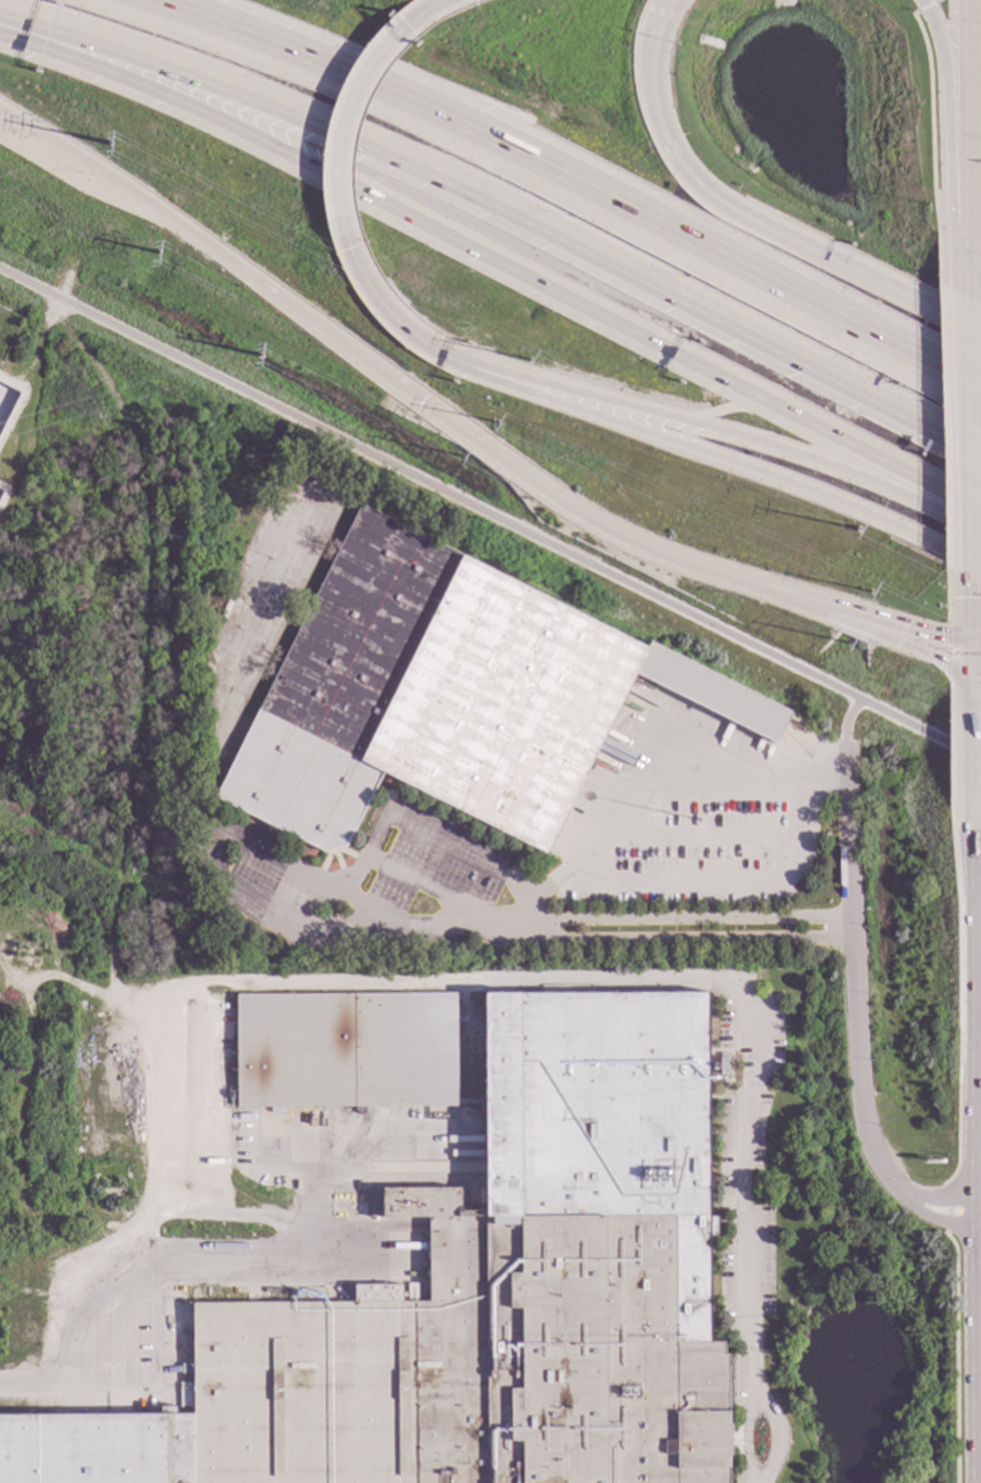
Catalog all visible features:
road: (936, 1)
road: (962, 2)
road: (926, 7)
road: (663, 11)
road: (930, 15)
road: (415, 16)
road: (950, 20)
road: (343, 122)
road: (963, 123)
road: (947, 138)
road: (930, 143)
power tower: (108, 144)
road: (571, 181)
road: (141, 204)
road: (502, 214)
road: (753, 230)
traffic signals: (349, 247)
power tower: (155, 251)
road: (494, 262)
road: (965, 263)
road: (393, 318)
power tower: (259, 355)
power substation: (10, 358)
power tower: (527, 358)
power tower: (496, 422)
road: (942, 425)
road: (967, 432)
road: (737, 441)
power tower: (463, 455)
road: (501, 459)
road: (735, 466)
power substation: (2, 494)
road: (490, 514)
power tower: (859, 530)
power tower: (871, 592)
road: (945, 598)
road: (969, 606)
road: (857, 613)
road: (975, 628)
road: (859, 629)
traffic signals: (970, 633)
power tower: (846, 644)
road: (945, 650)
road: (962, 653)
road: (145, 654)
road: (971, 656)
traffic signals: (972, 680)
building: (446, 694)
road: (843, 740)
road: (971, 750)
road: (780, 780)
road: (837, 785)
road: (433, 837)
road: (305, 870)
road: (426, 890)
road: (496, 923)
road: (957, 932)
road: (701, 986)
building: (755, 990)
road: (973, 1015)
road: (860, 1046)
road: (320, 1144)
road: (156, 1181)
building: (347, 1203)
road: (947, 1207)
road: (976, 1209)
building: (827, 1216)
road: (156, 1237)
road: (151, 1267)
building: (465, 1270)
building: (184, 1308)
road: (973, 1346)
road: (954, 1354)
road: (162, 1377)

